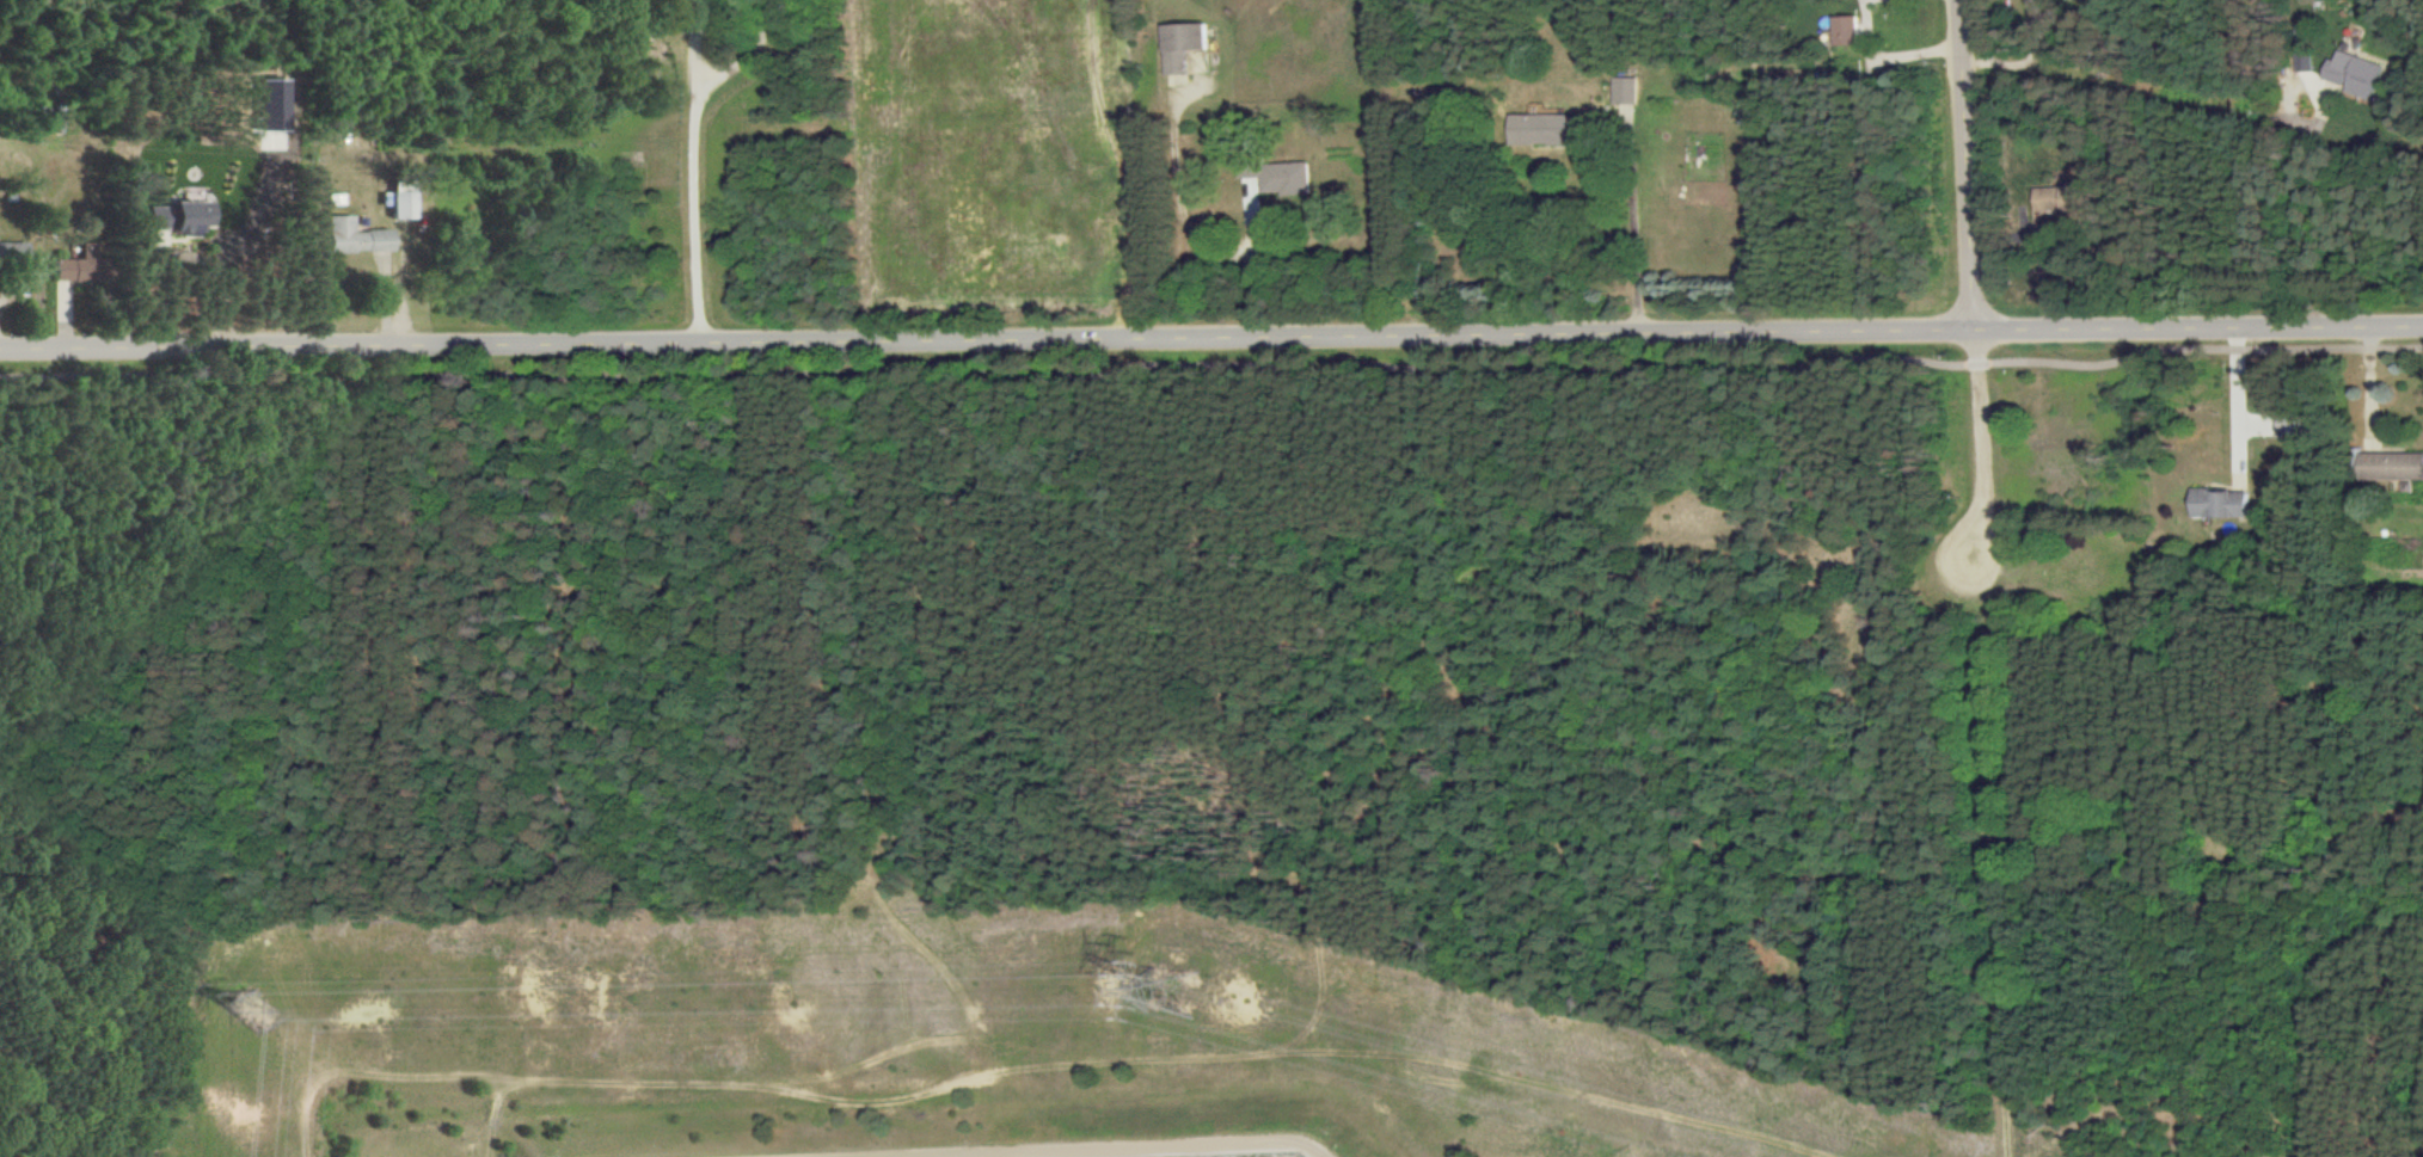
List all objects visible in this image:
building: (1841, 30)
building: (1176, 45)
road: (1887, 56)
building: (2348, 73)
building: (1620, 90)
building: (269, 105)
building: (57, 118)
building: (1535, 129)
road: (349, 164)
road: (687, 170)
building: (1281, 178)
building: (2047, 198)
building: (399, 204)
road: (2289, 209)
building: (176, 216)
road: (1626, 223)
building: (351, 236)
building: (11, 252)
building: (73, 265)
road: (1249, 265)
road: (1971, 297)
road: (1211, 332)
road: (1213, 369)
road: (2232, 404)
building: (2387, 464)
building: (2213, 501)
power tower: (1177, 992)
power tower: (254, 1007)

